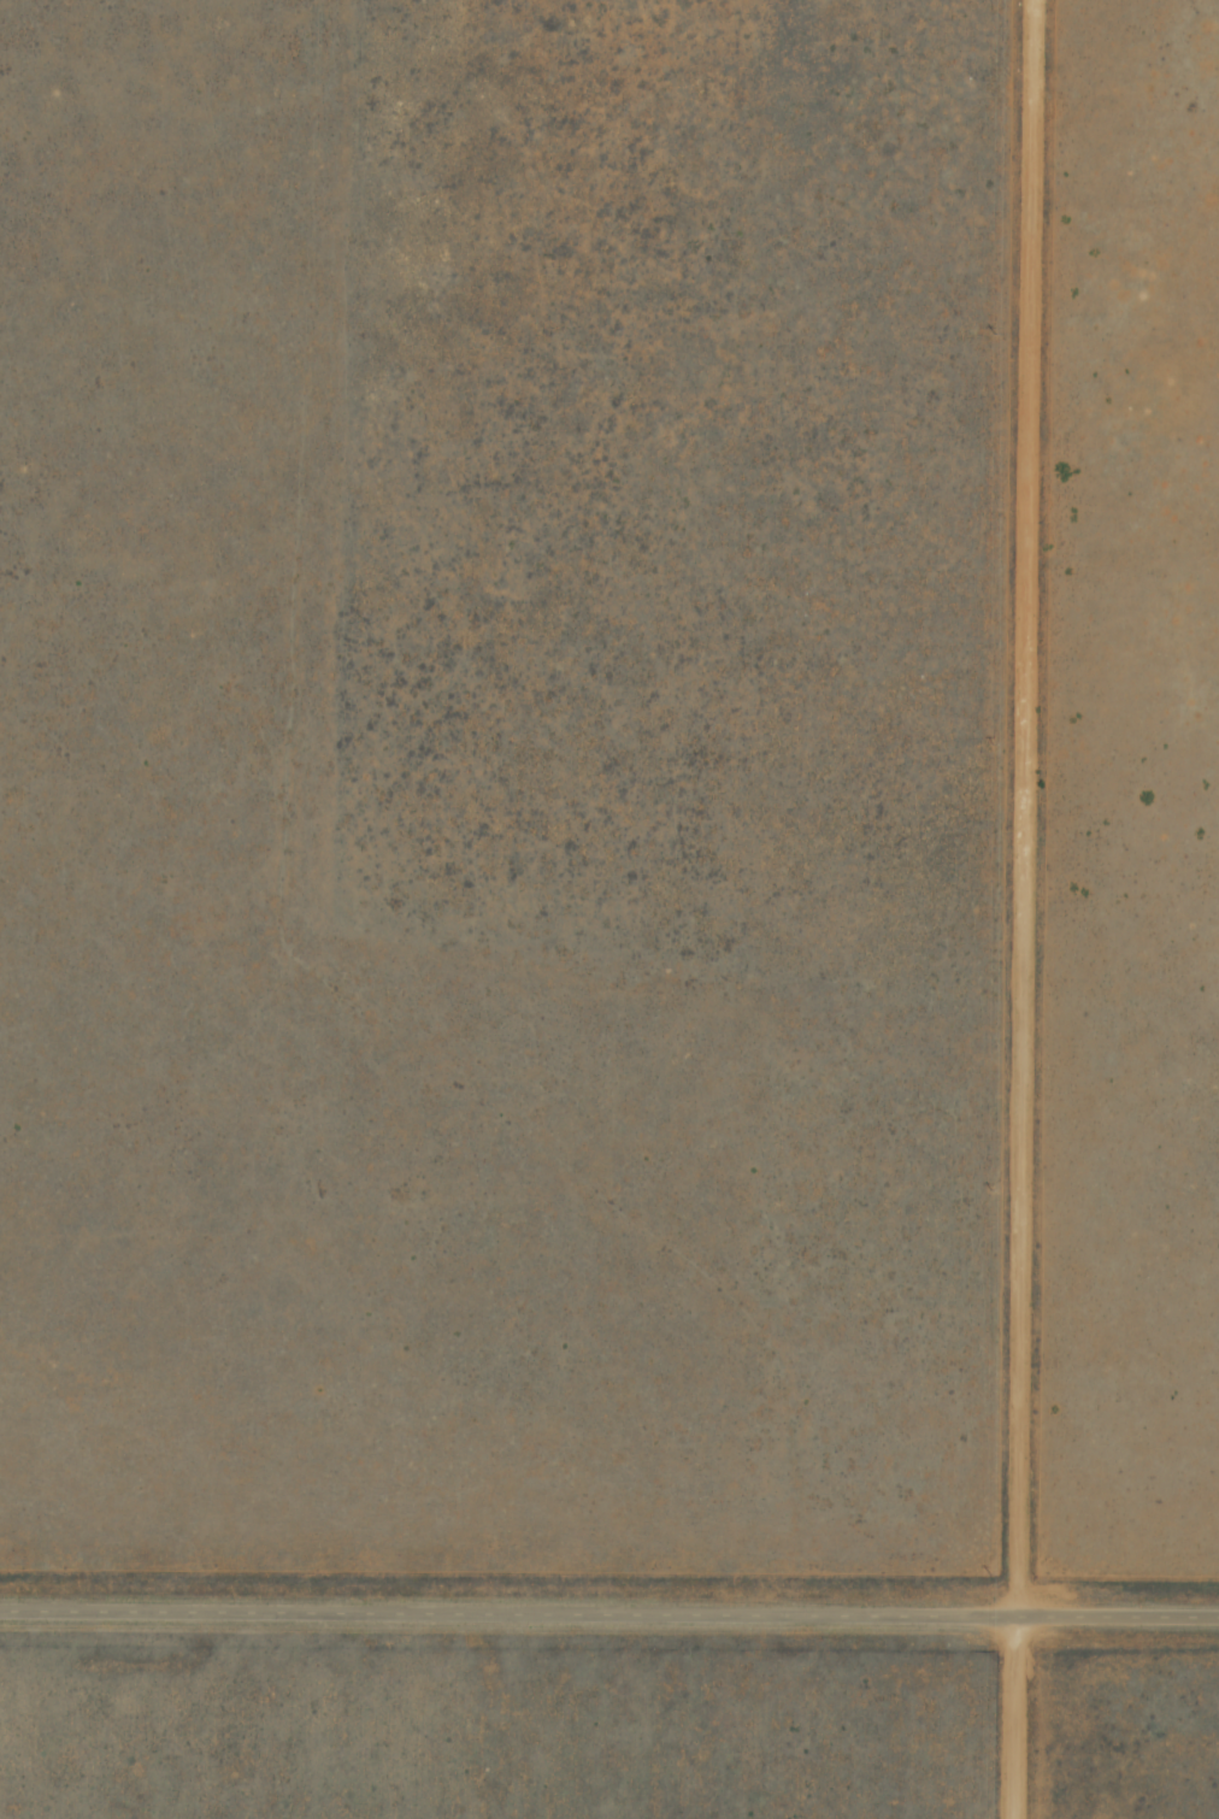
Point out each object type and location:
road: (1023, 908)
road: (609, 1617)

